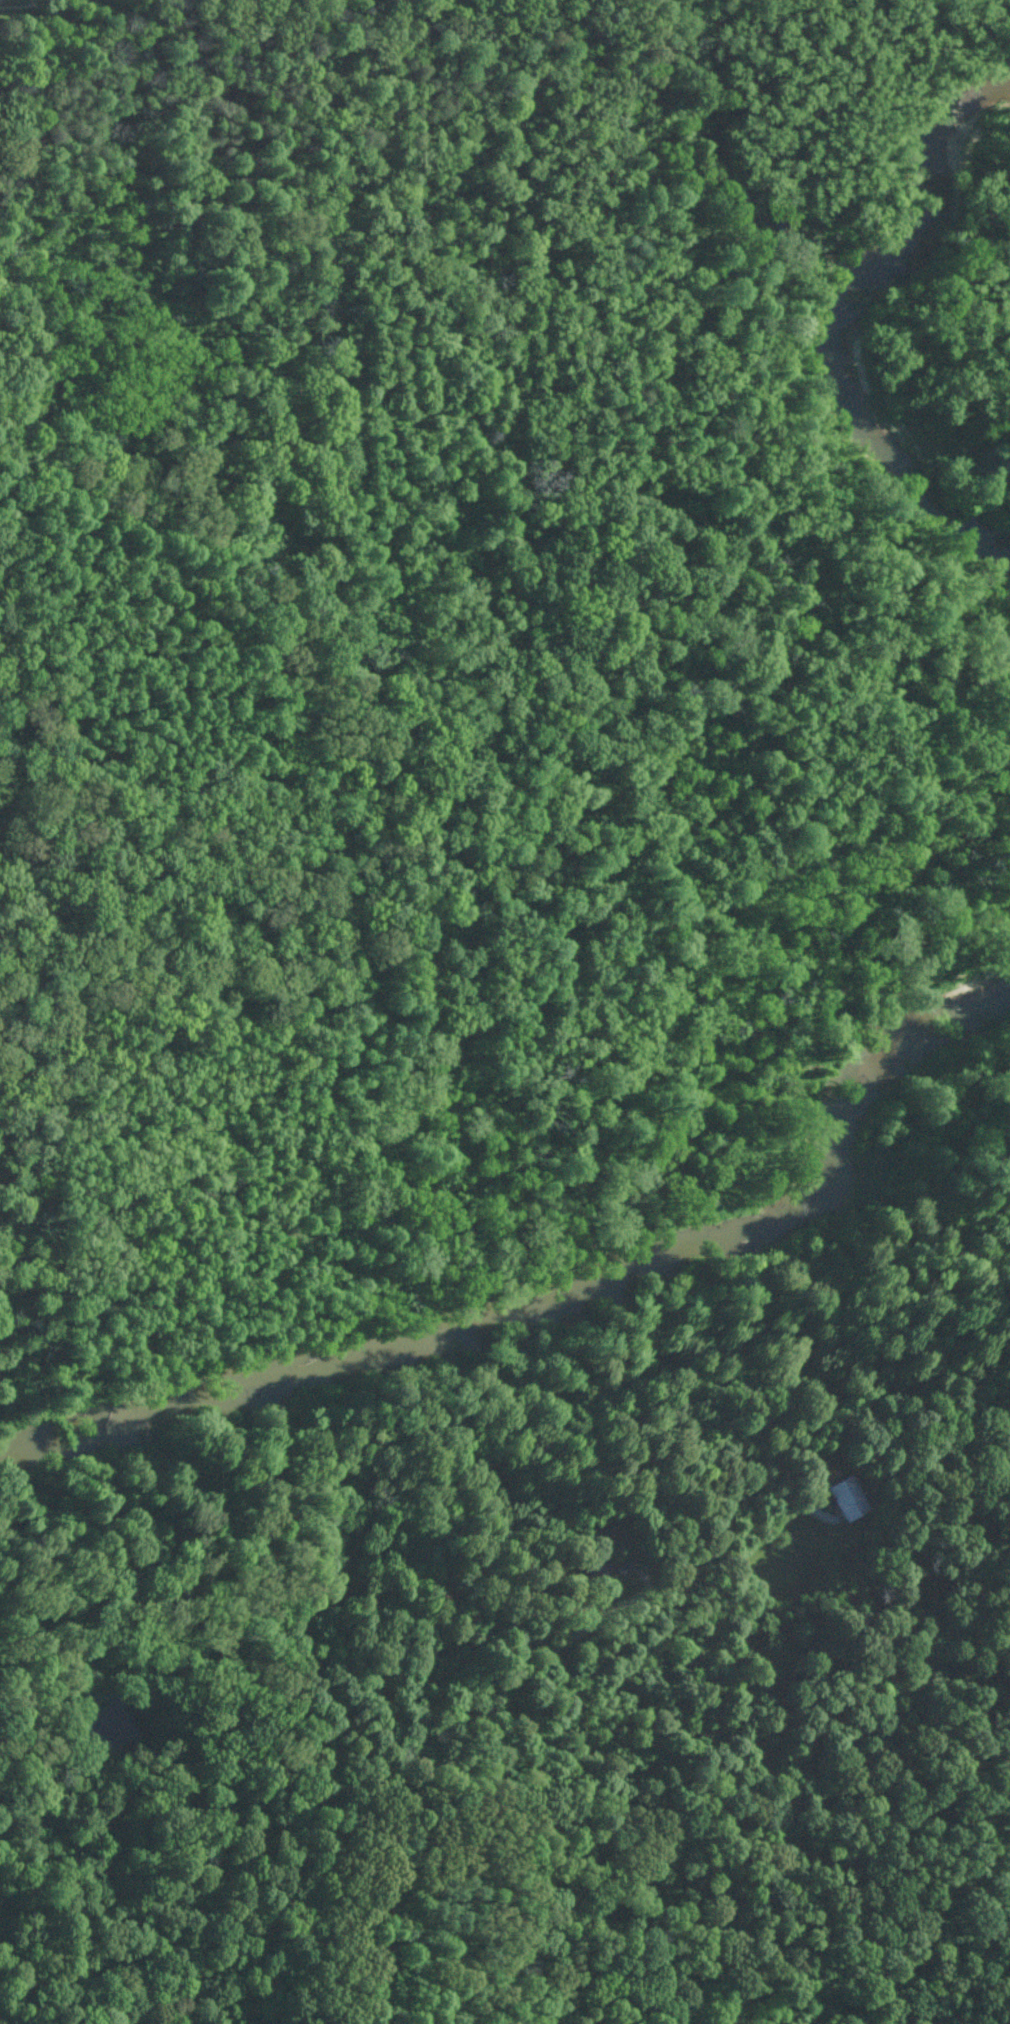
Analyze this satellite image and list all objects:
road: (536, 52)
road: (29, 219)
river: (845, 310)
road: (27, 391)
road: (551, 434)
road: (697, 878)
road: (455, 1073)
river: (568, 1293)
building: (842, 1497)
road: (502, 1697)
road: (300, 1771)
road: (525, 1941)

